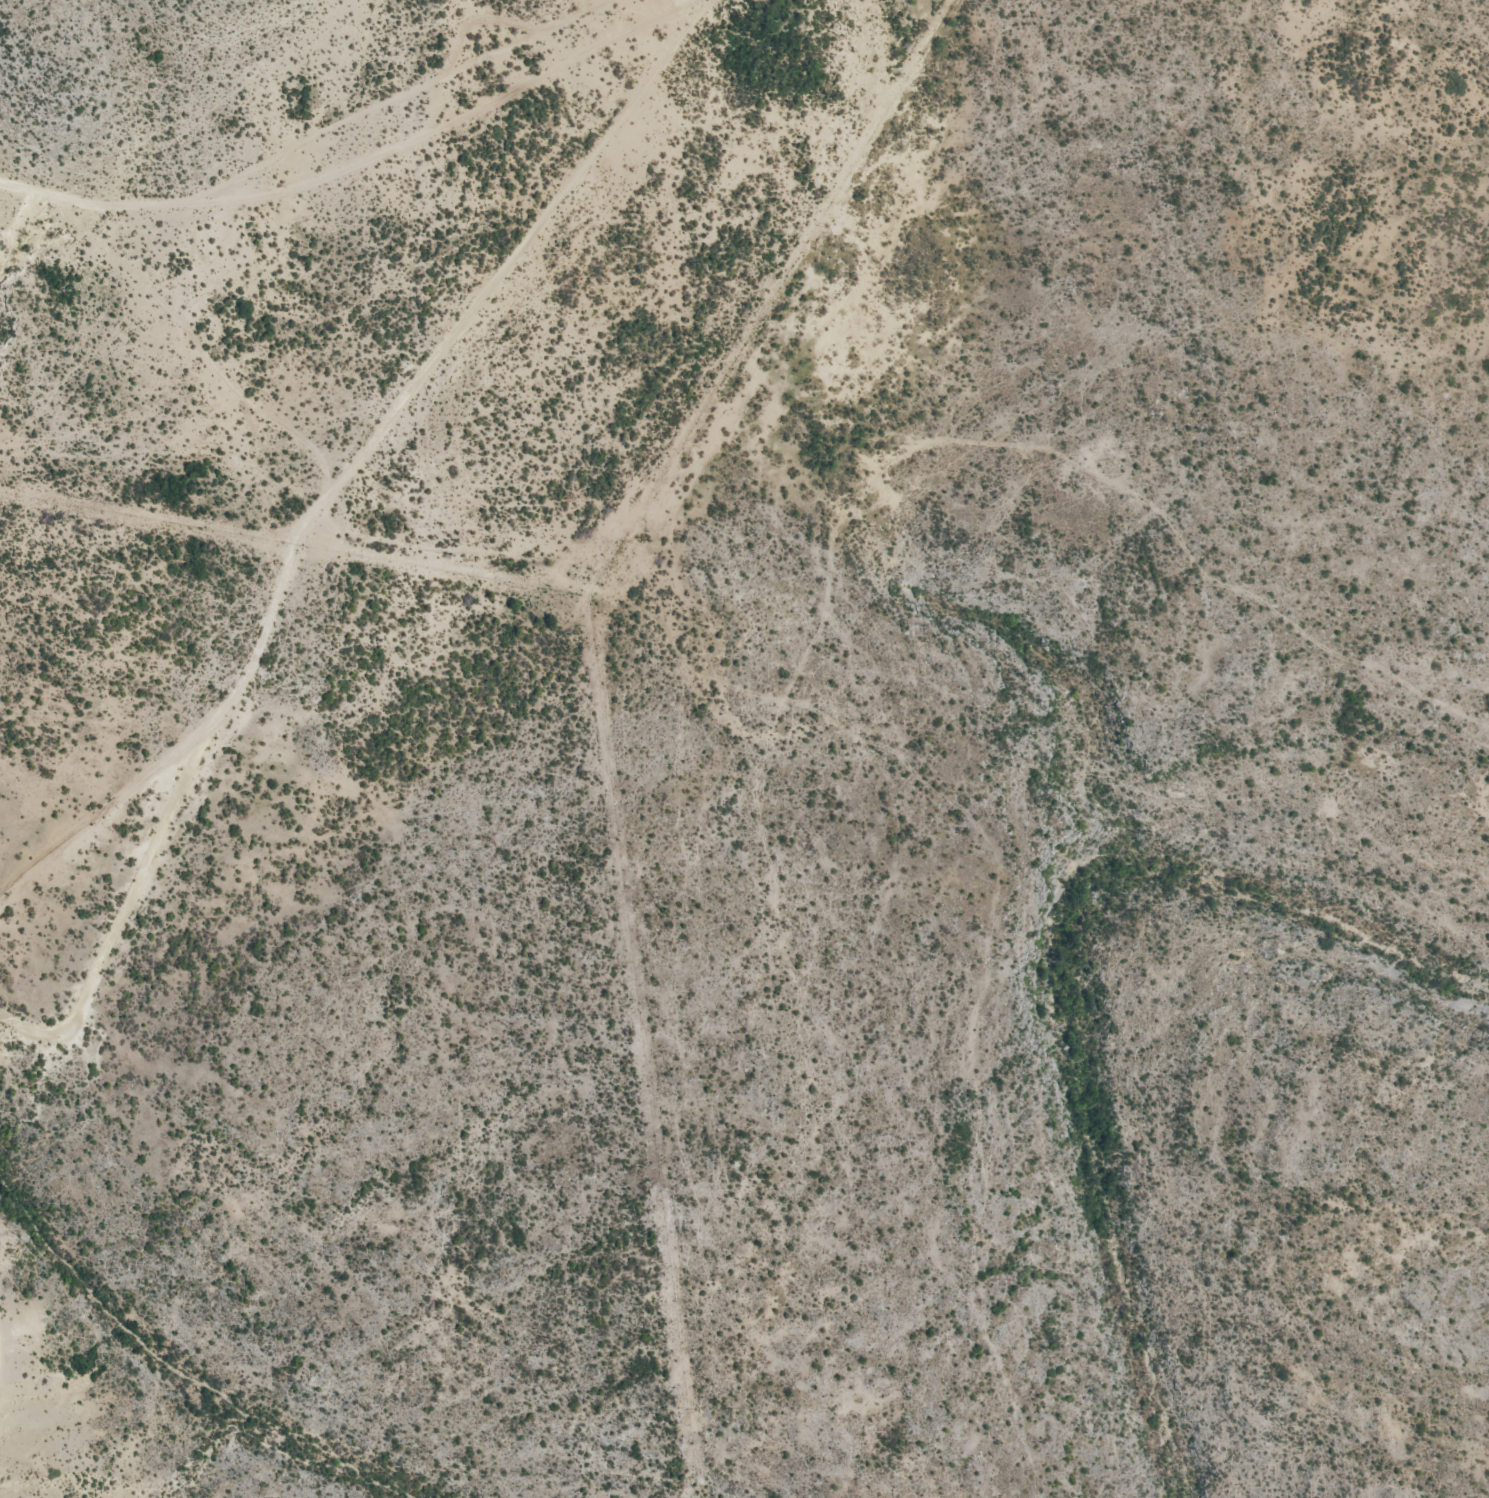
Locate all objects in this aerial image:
road: (316, 516)
road: (773, 677)
road: (4, 1359)

